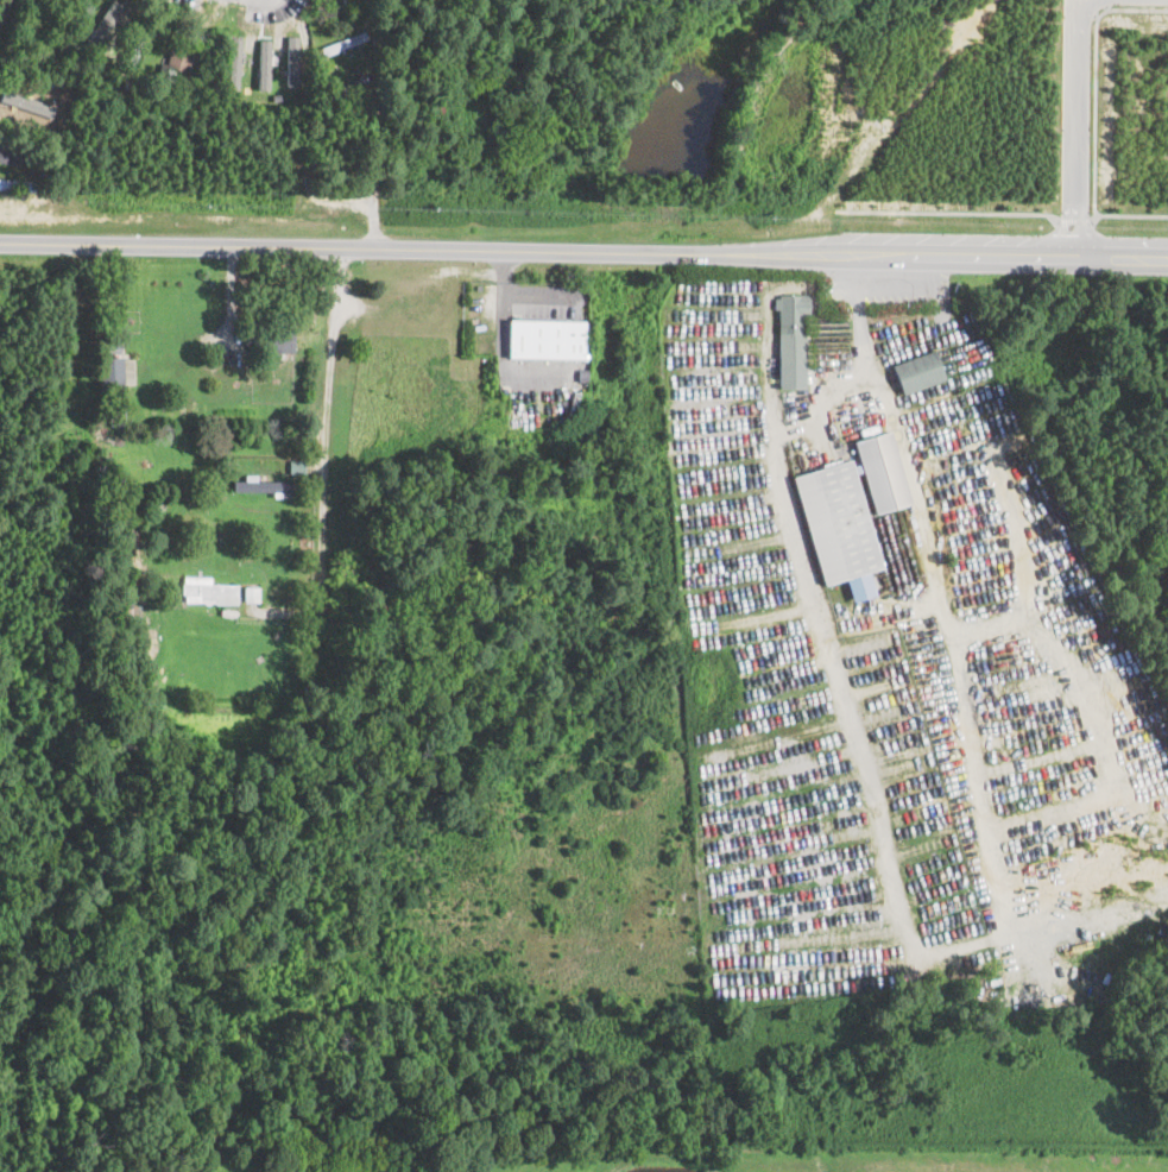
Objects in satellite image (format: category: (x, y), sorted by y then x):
road: (5, 8)
building: (100, 26)
building: (178, 59)
building: (292, 59)
building: (234, 62)
building: (264, 63)
road: (1097, 81)
road: (1079, 126)
building: (10, 157)
road: (948, 212)
road: (1129, 215)
road: (1077, 220)
road: (424, 246)
road: (1009, 251)
road: (854, 281)
building: (278, 339)
building: (545, 339)
building: (791, 340)
building: (112, 370)
building: (917, 371)
road: (328, 460)
building: (882, 472)
building: (260, 484)
building: (838, 527)
building: (207, 590)
building: (250, 592)
road: (955, 950)

